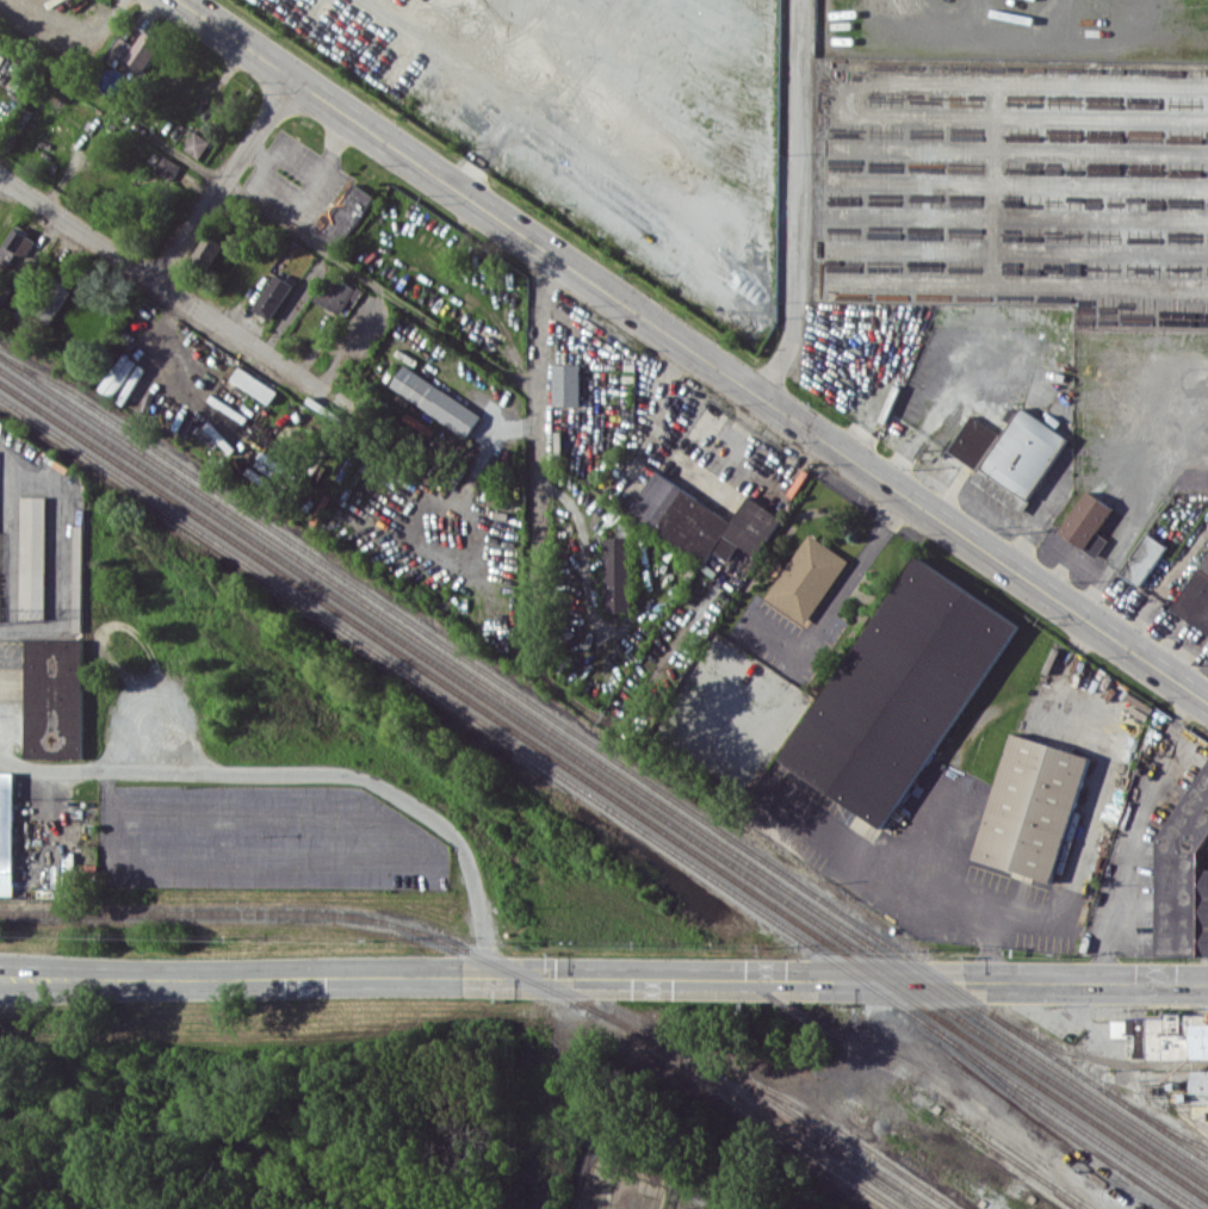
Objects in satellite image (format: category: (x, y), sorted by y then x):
building: (136, 50)
building: (196, 143)
building: (166, 168)
road: (225, 180)
road: (797, 201)
road: (268, 212)
building: (343, 215)
building: (16, 246)
building: (206, 250)
road: (176, 294)
building: (337, 294)
building: (273, 296)
building: (50, 302)
road: (296, 302)
road: (352, 339)
road: (693, 351)
building: (255, 384)
building: (566, 384)
building: (435, 399)
building: (973, 441)
building: (1020, 458)
road: (398, 506)
building: (704, 520)
building: (1088, 522)
building: (33, 557)
building: (1142, 558)
building: (618, 573)
building: (807, 578)
road: (836, 595)
road: (535, 597)
building: (1196, 597)
building: (900, 690)
building: (55, 697)
railway: (606, 751)
railway: (603, 763)
road: (311, 770)
railway: (603, 777)
railway: (603, 792)
railway: (600, 801)
building: (1032, 806)
road: (936, 827)
road: (1086, 830)
building: (7, 831)
road: (1136, 832)
road: (910, 872)
building: (1184, 876)
railway: (503, 968)
road: (603, 981)
building: (1164, 1033)
building: (1201, 1085)
railway: (744, 1104)
railway: (1059, 1126)
railway: (823, 1133)
railway: (1016, 1160)
railway: (871, 1178)
railway: (1042, 1203)
railway: (986, 1204)

